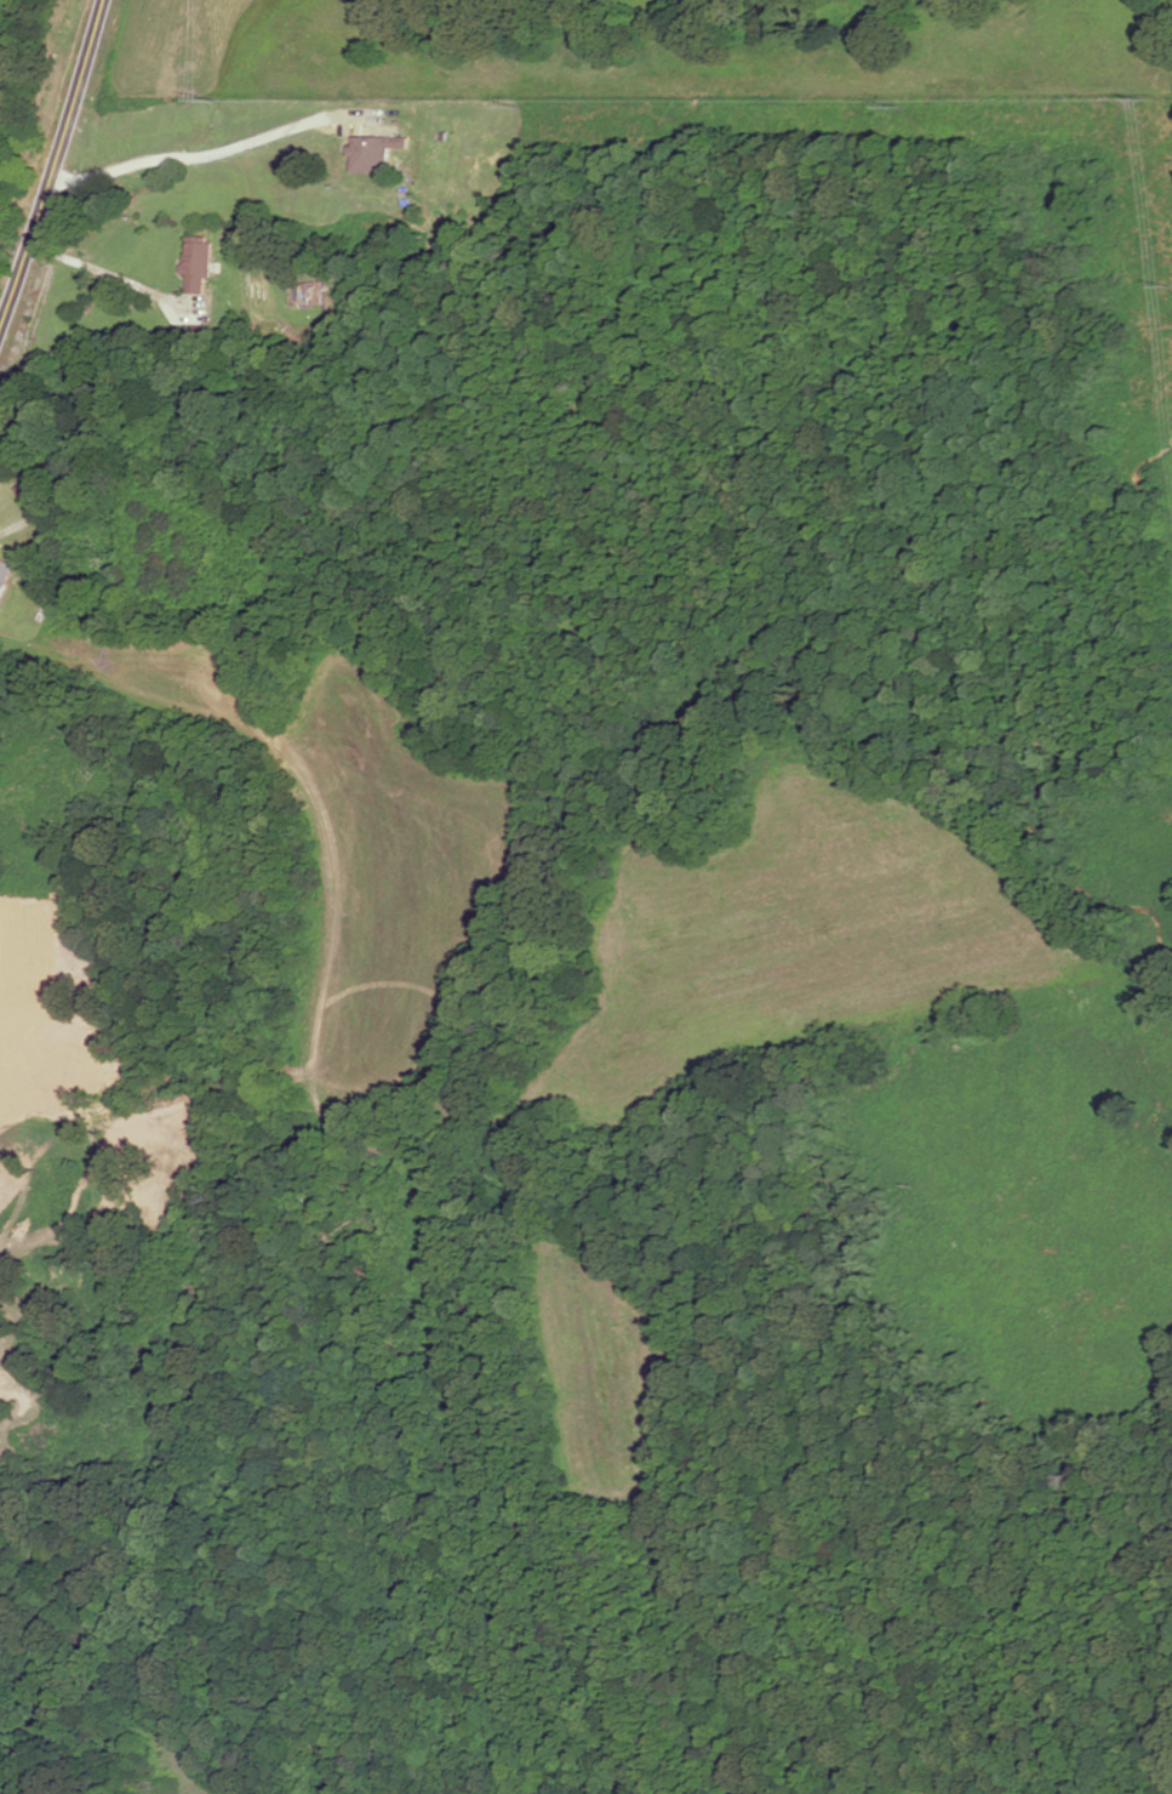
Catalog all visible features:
power tower: (213, 99)
power tower: (1148, 102)
building: (373, 148)
road: (206, 156)
road: (56, 169)
building: (198, 266)
road: (114, 277)
building: (34, 507)
building: (5, 575)

